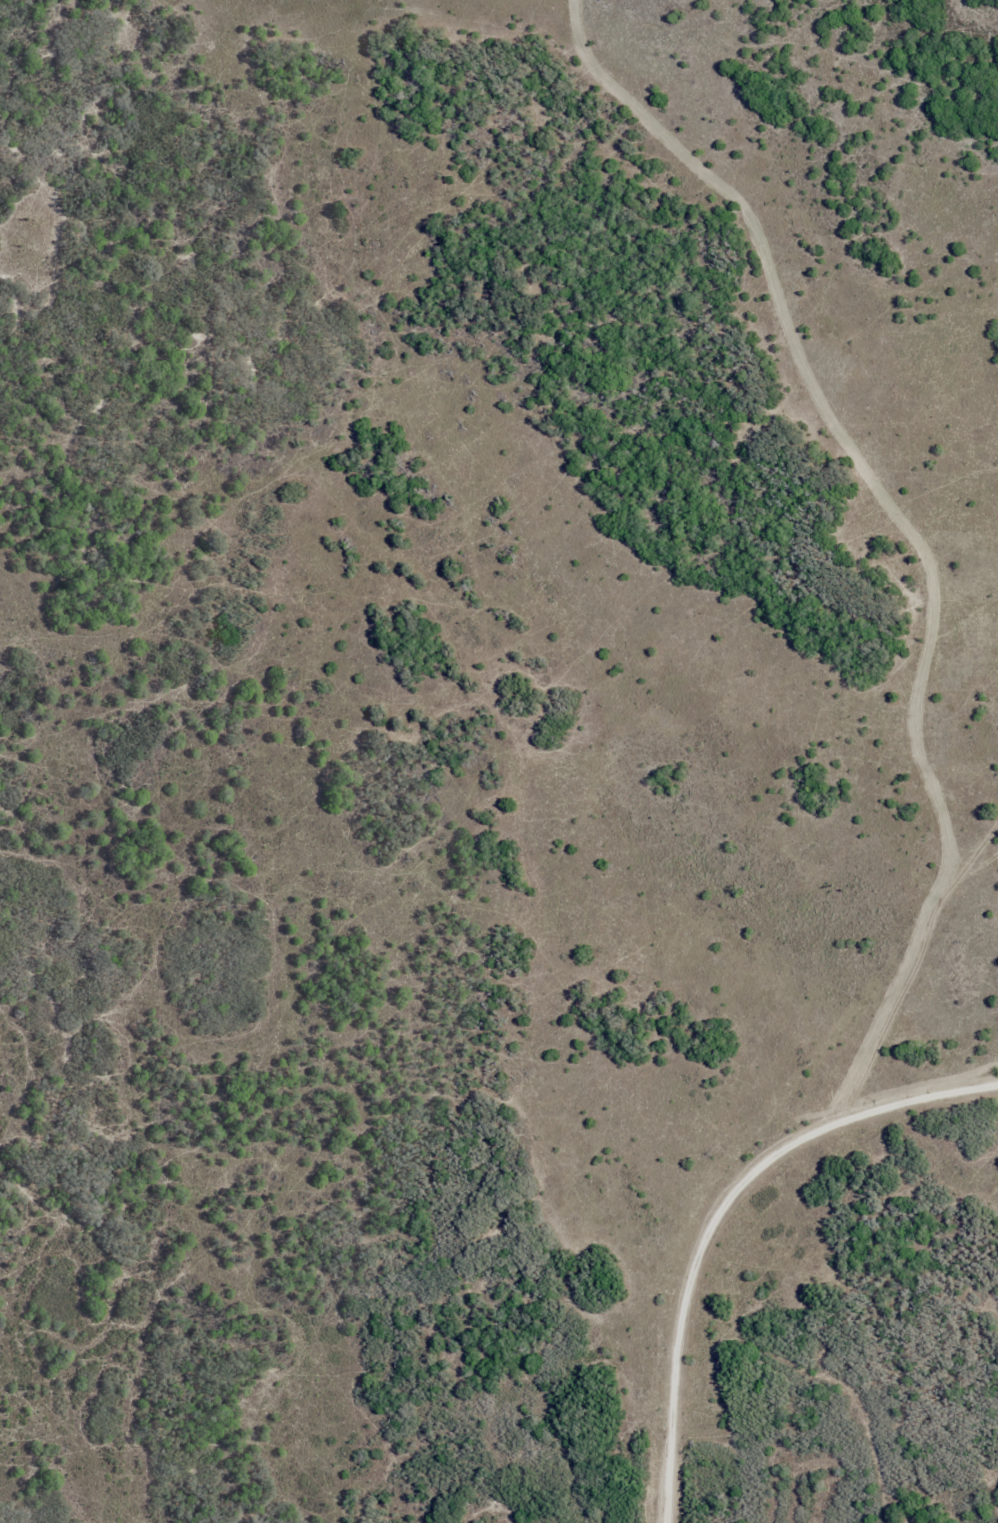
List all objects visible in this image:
road: (779, 105)
road: (711, 1196)

